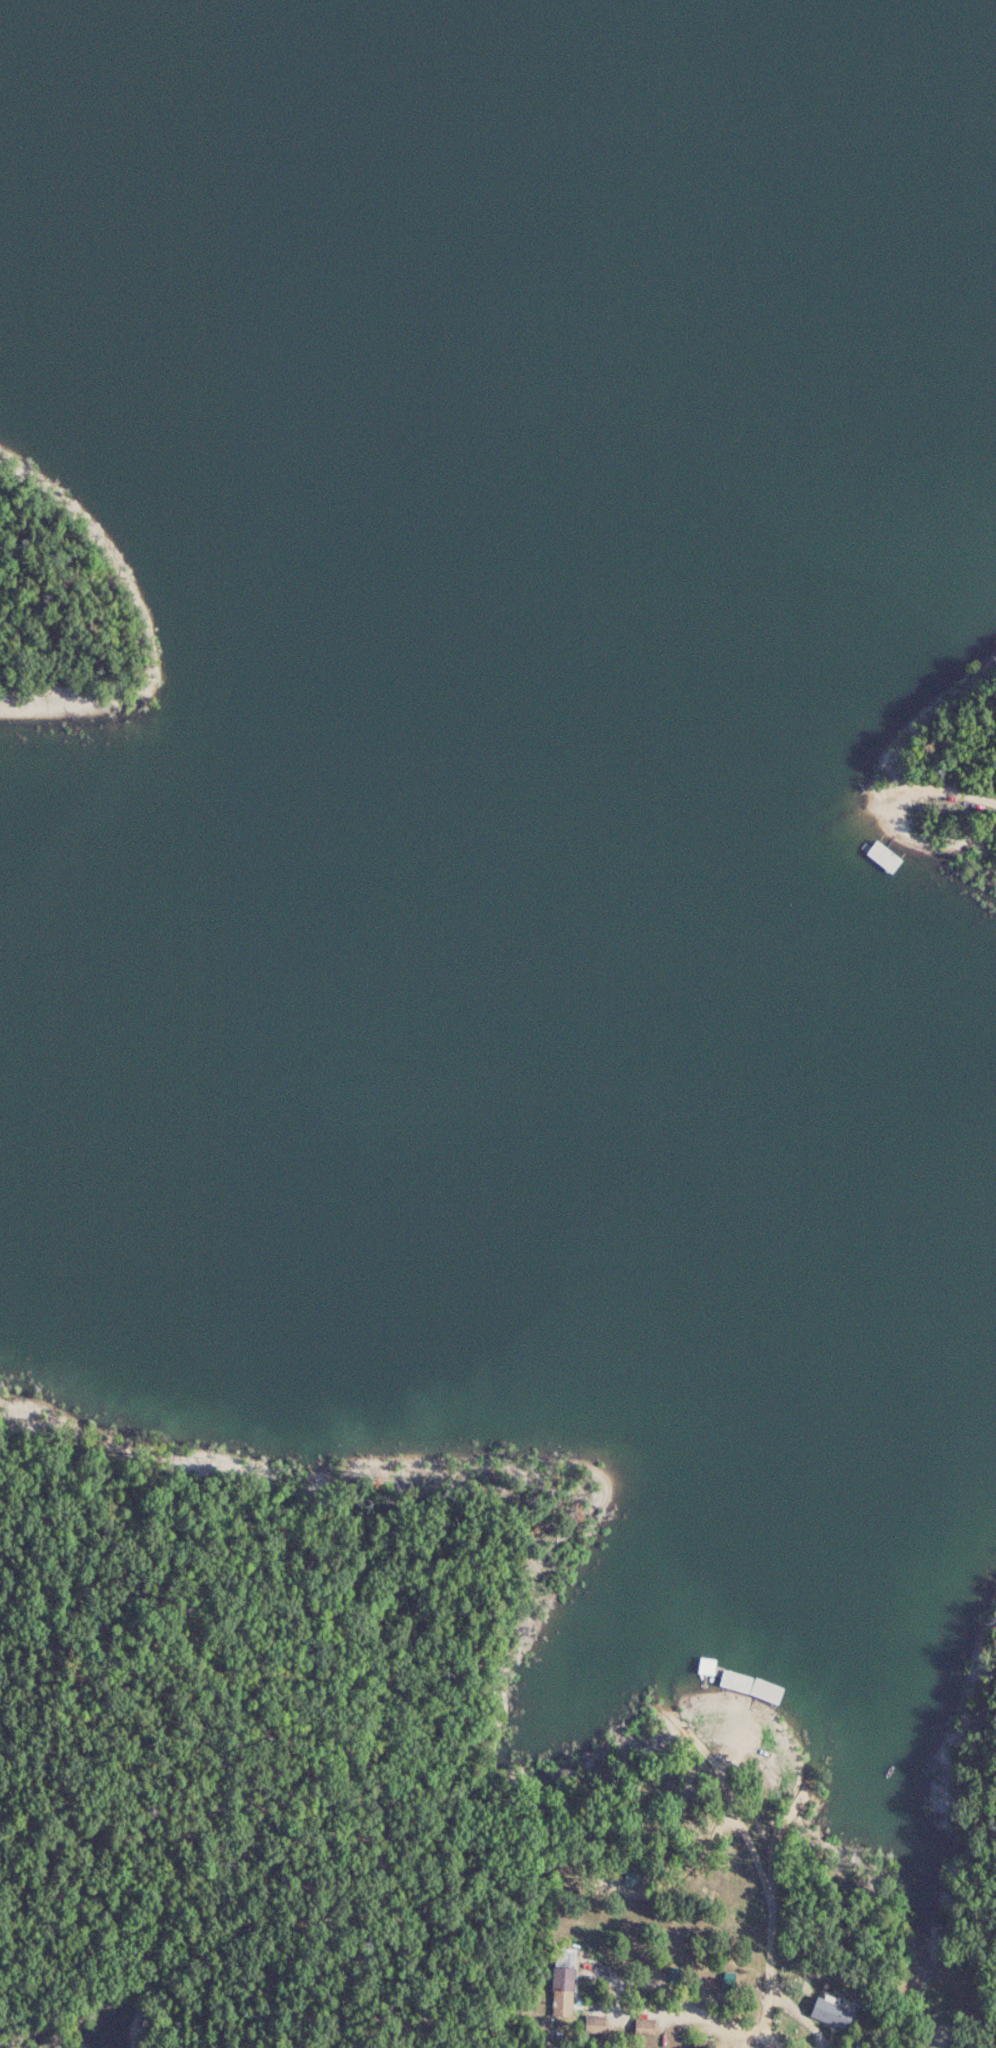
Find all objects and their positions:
road: (961, 789)
road: (958, 841)
road: (770, 1909)
building: (565, 1991)
building: (831, 2011)
road: (678, 2013)

